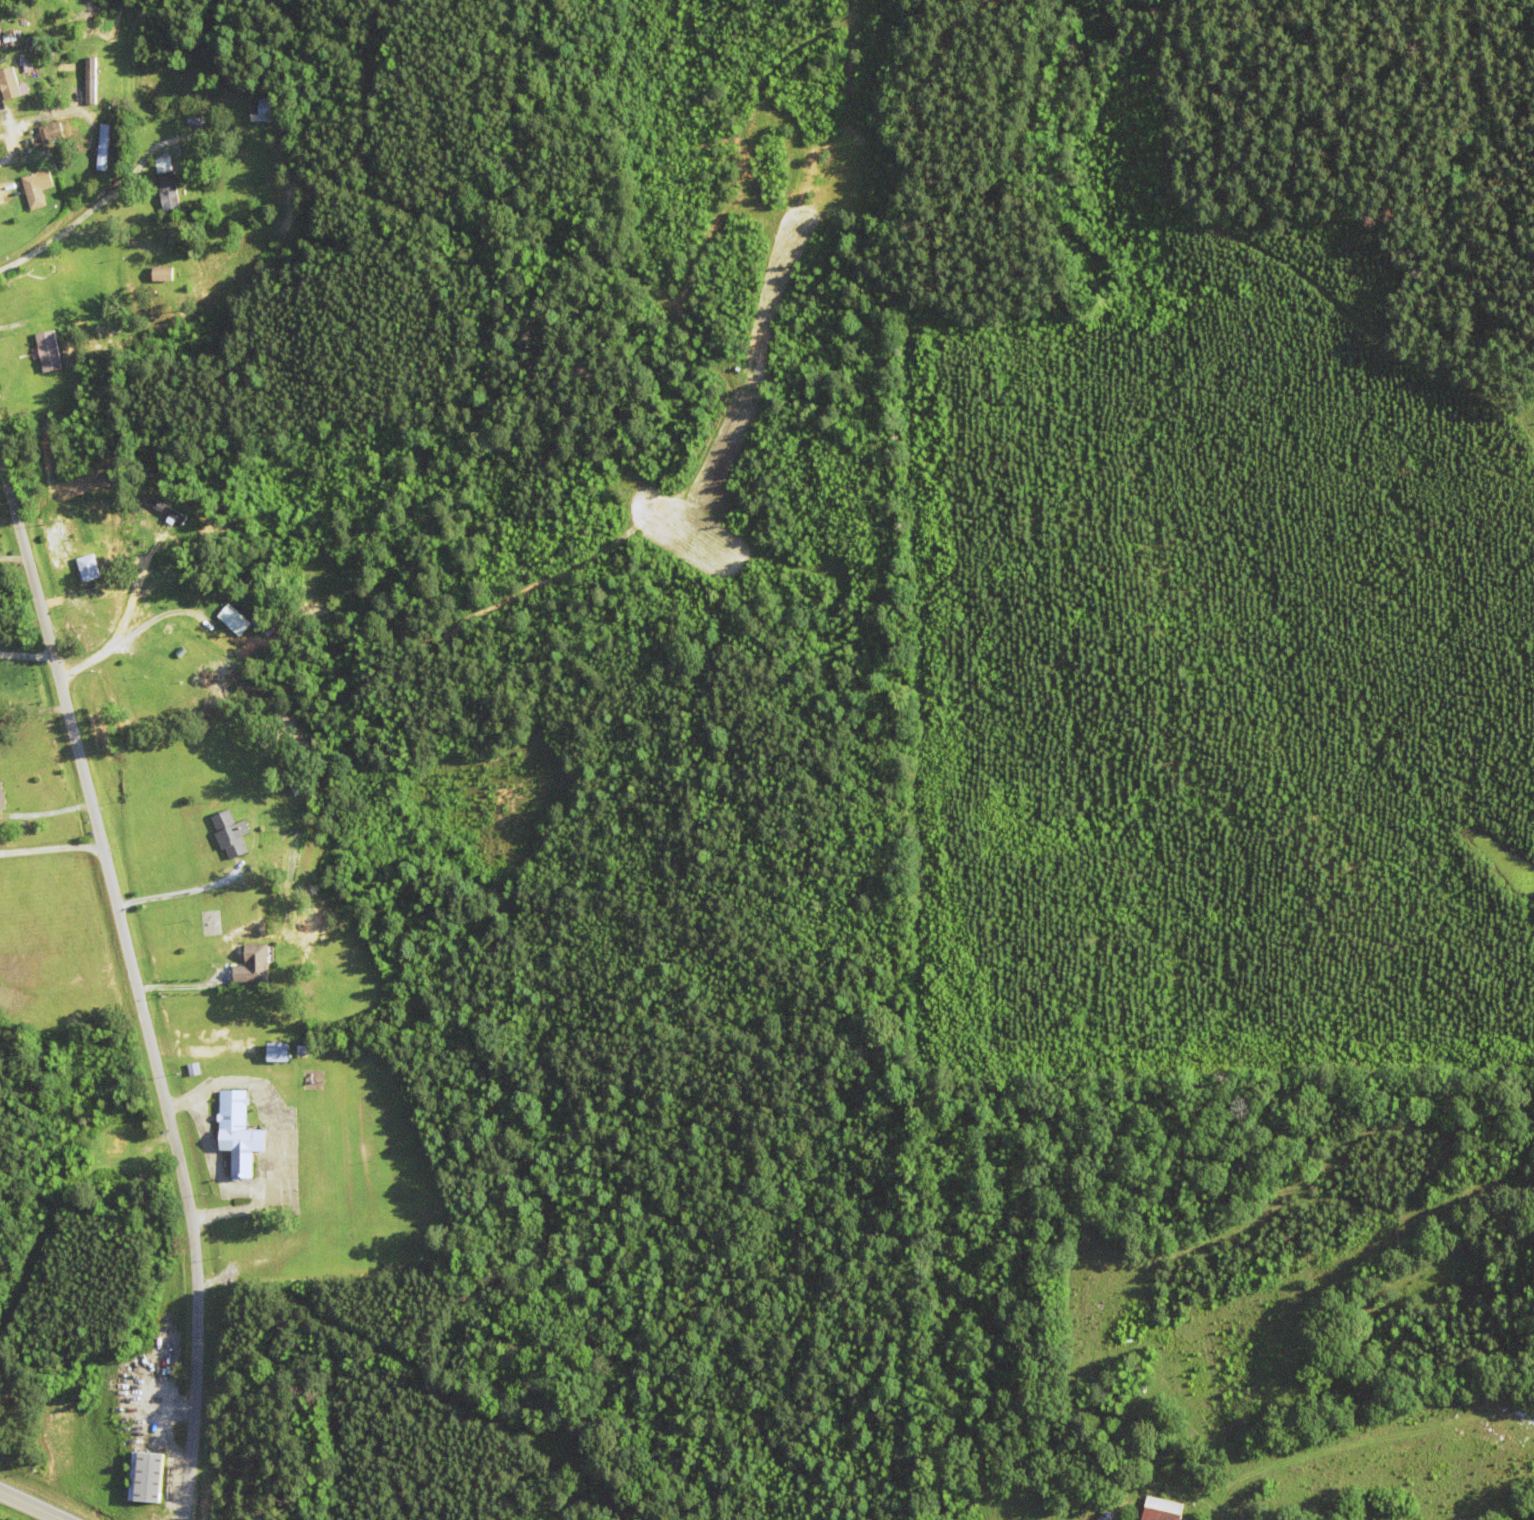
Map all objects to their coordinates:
road: (89, 210)
road: (90, 658)
road: (134, 984)
road: (27, 1507)

